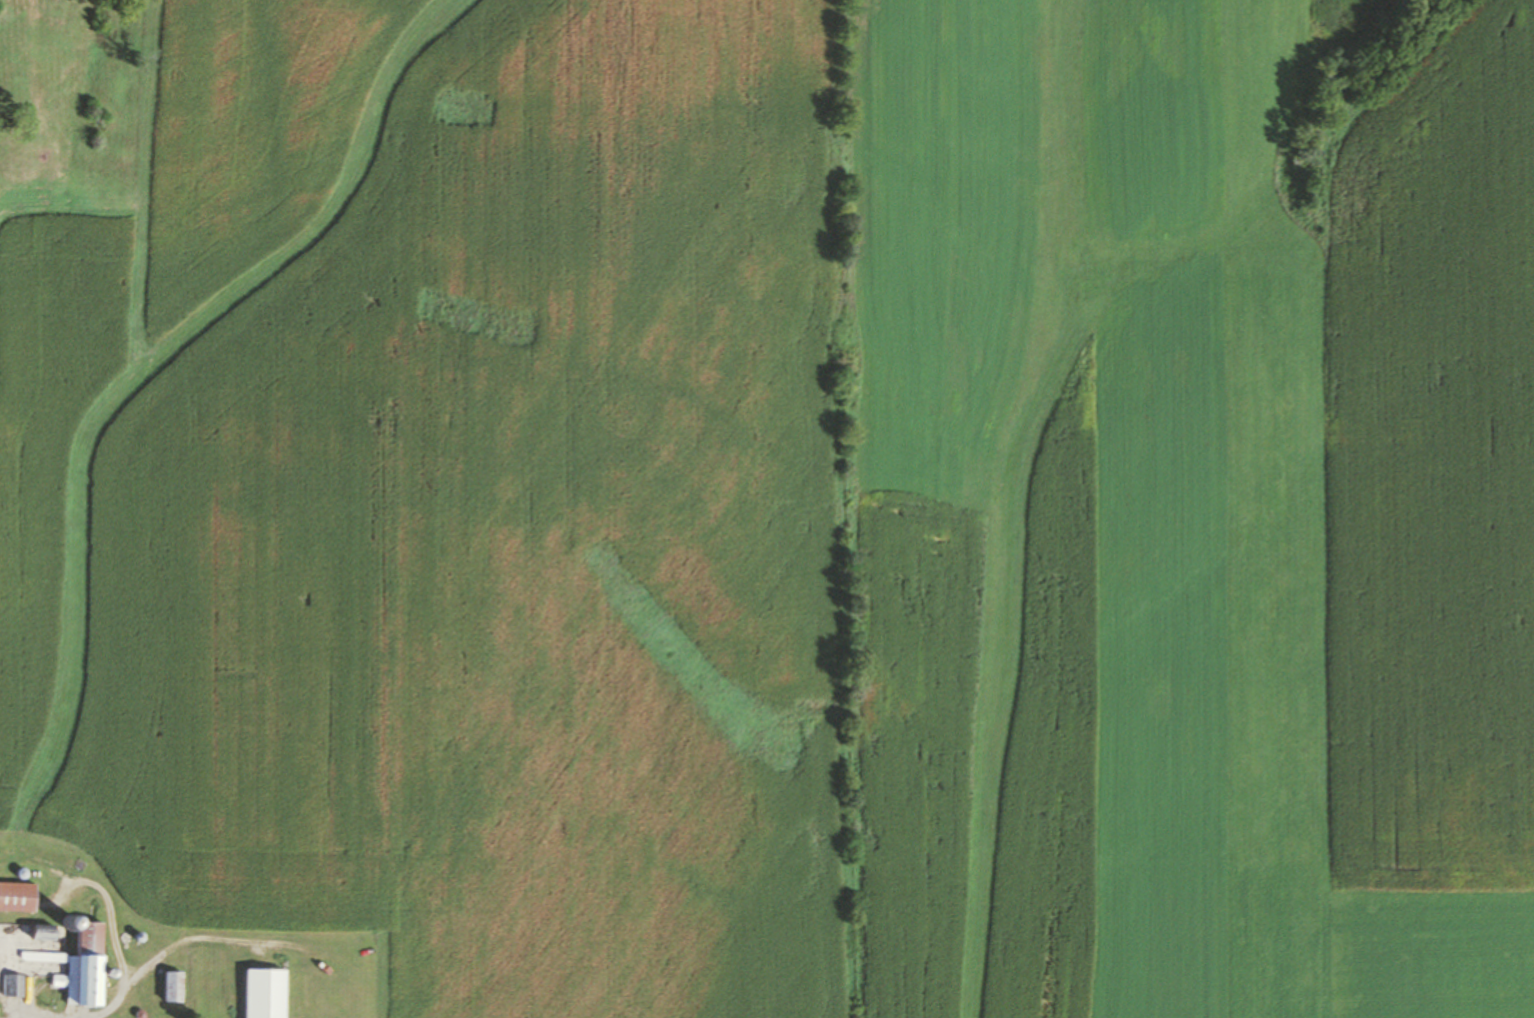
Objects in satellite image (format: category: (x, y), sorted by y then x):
road: (96, 889)
building: (16, 895)
road: (193, 940)
building: (84, 963)
building: (10, 984)
building: (171, 986)
building: (262, 993)

